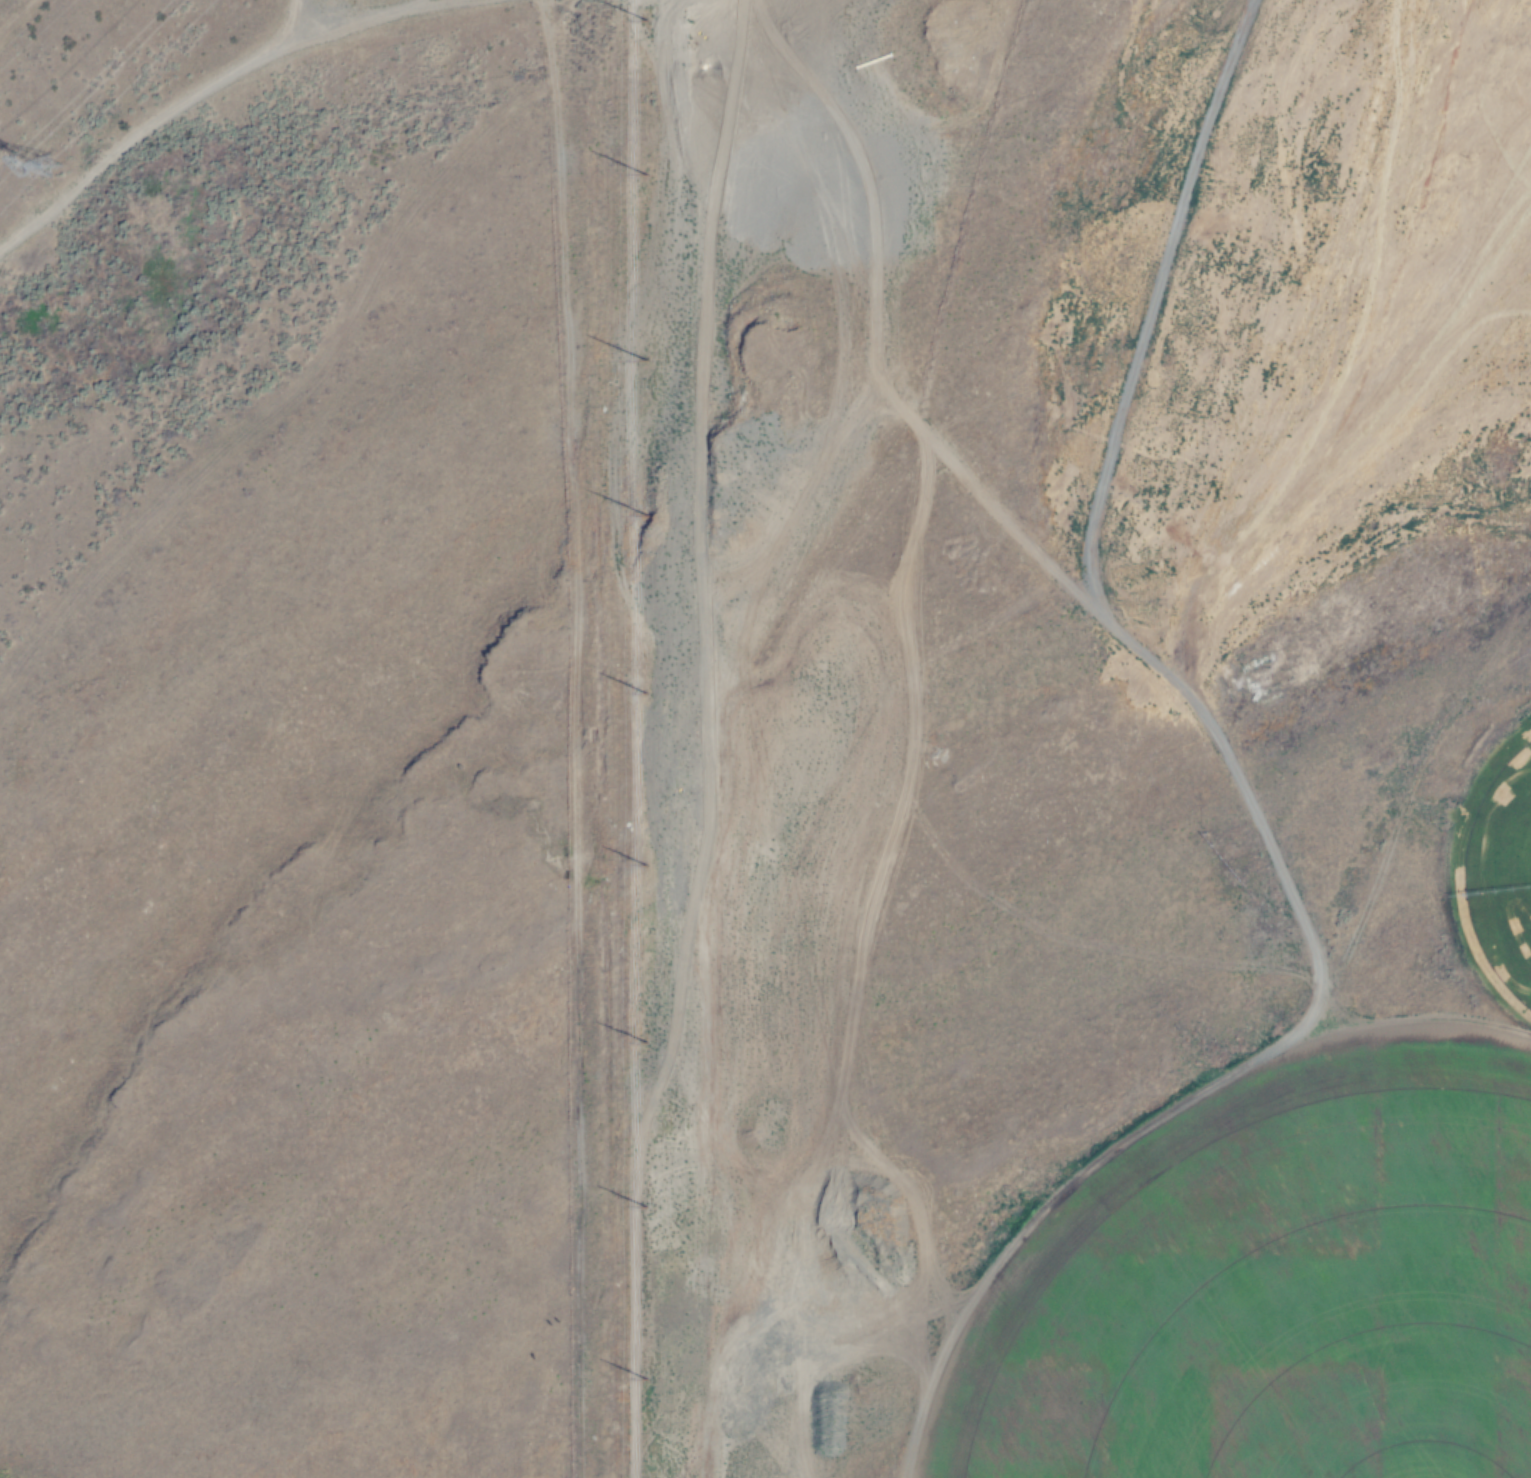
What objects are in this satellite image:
road: (358, 13)
power tower: (50, 156)
road: (638, 738)
crop: (1301, 1317)

